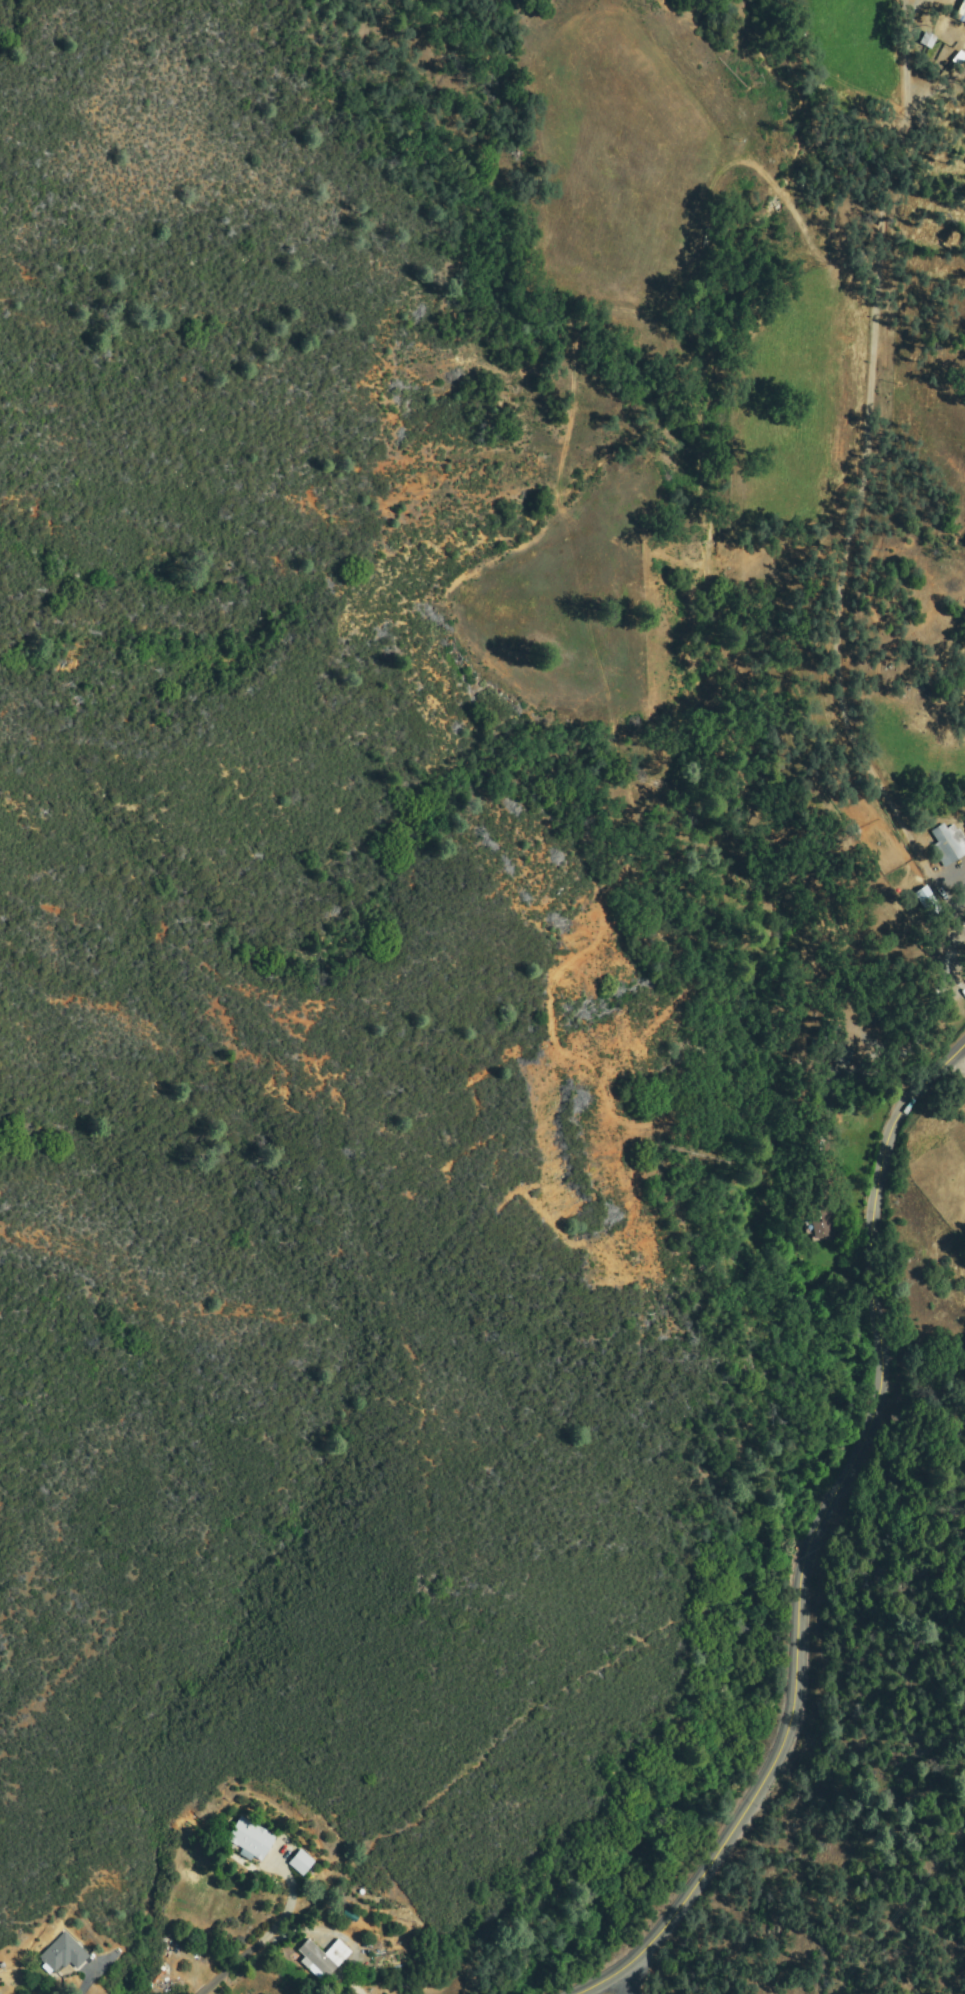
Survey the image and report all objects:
building: (961, 13)
building: (923, 39)
building: (948, 844)
building: (929, 902)
building: (842, 1054)
building: (821, 1220)
road: (818, 1534)
building: (250, 1840)
building: (301, 1862)
building: (63, 1953)
building: (322, 1958)

